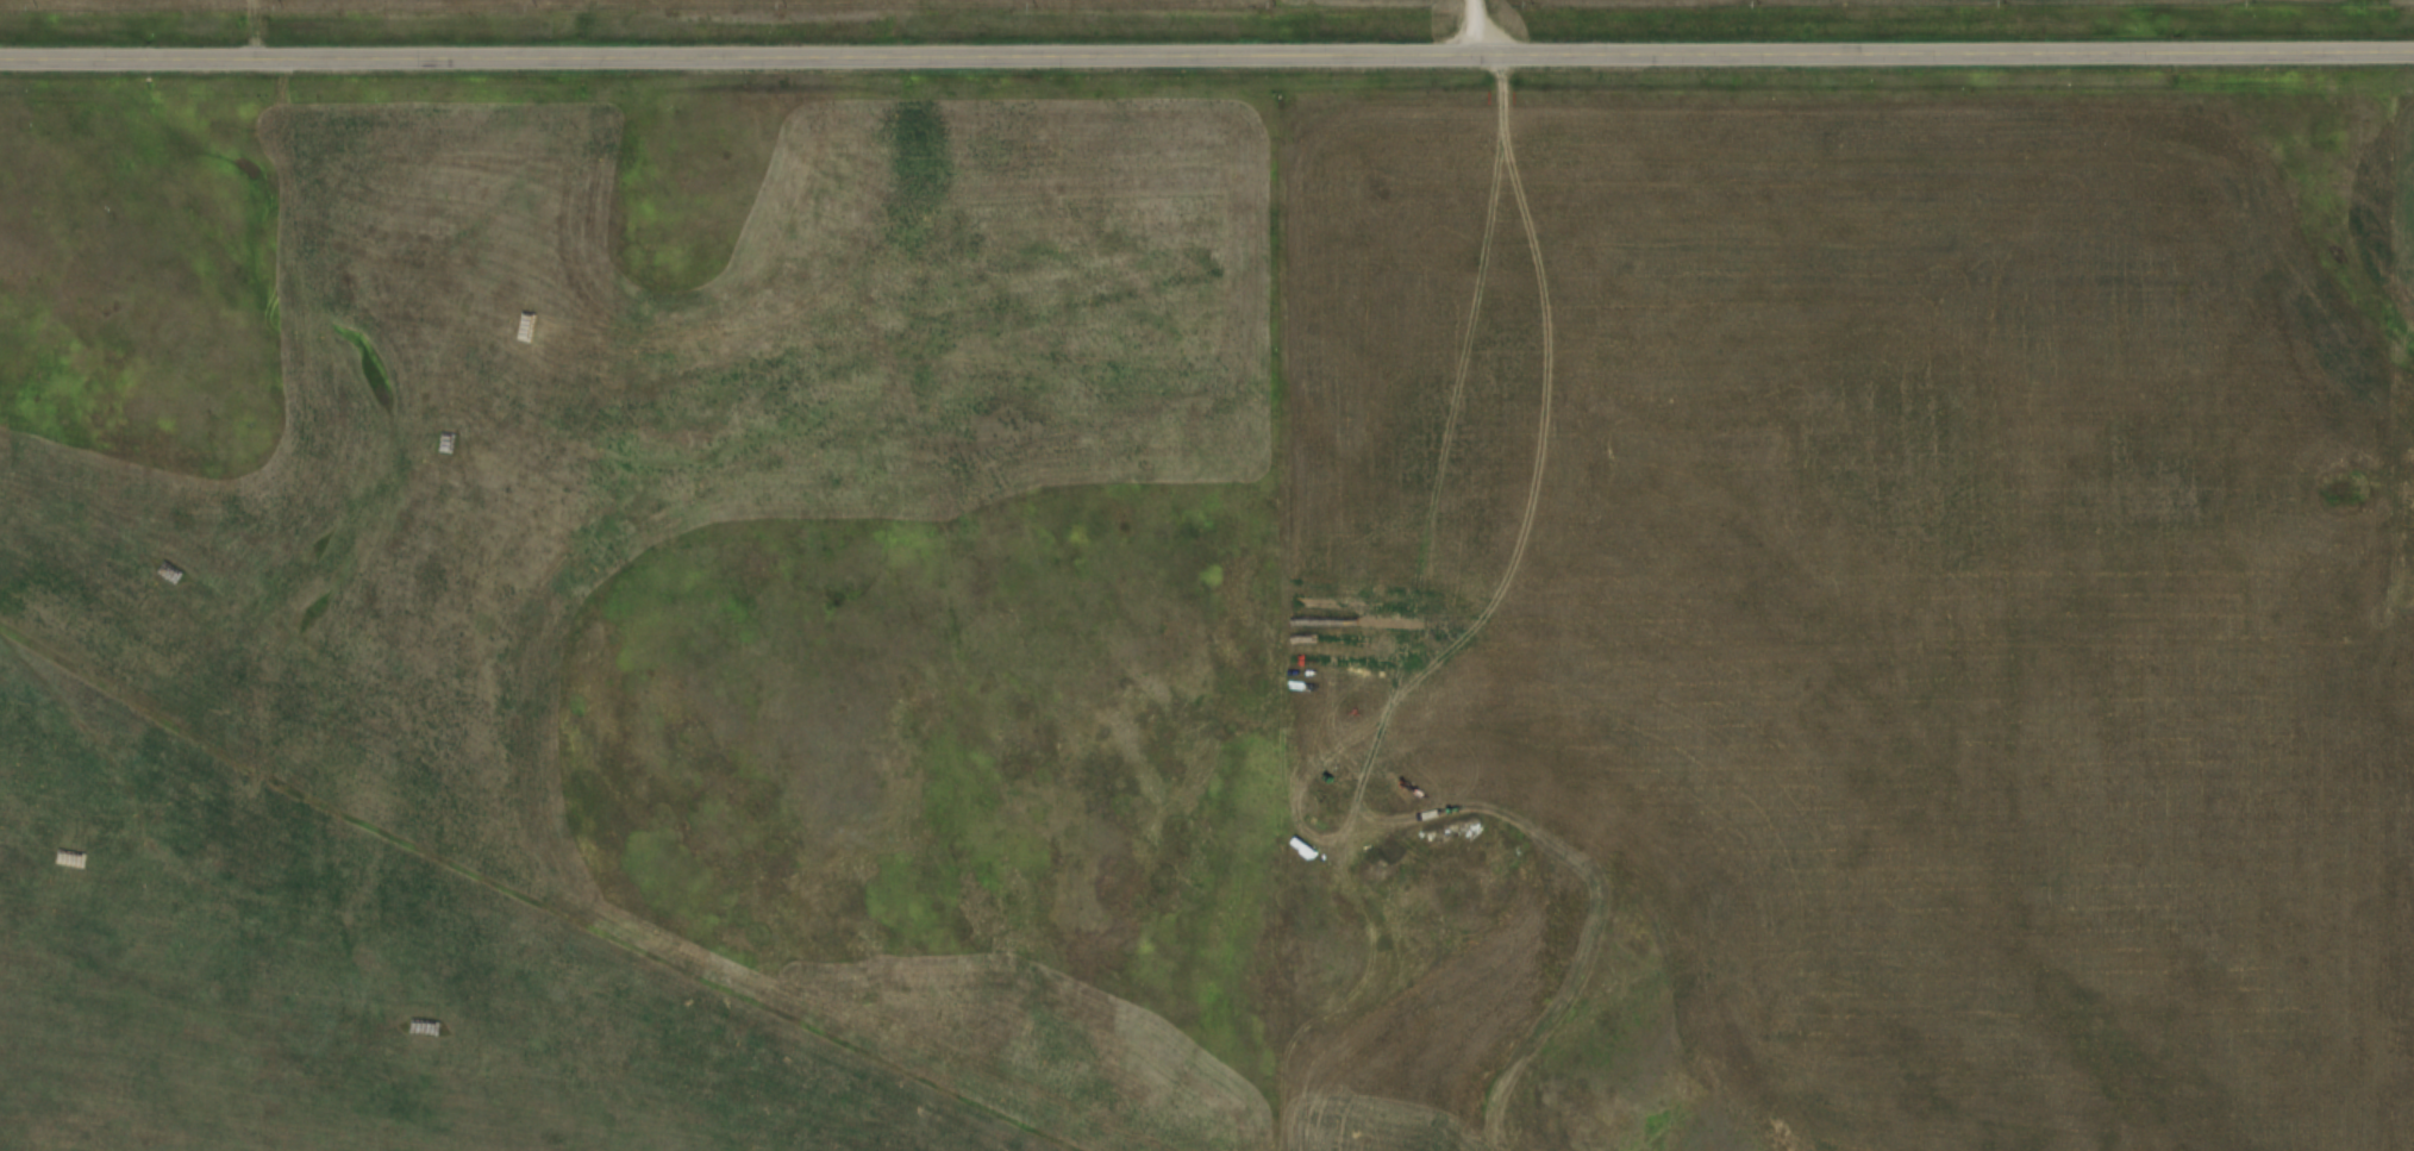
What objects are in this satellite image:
road: (1207, 52)

